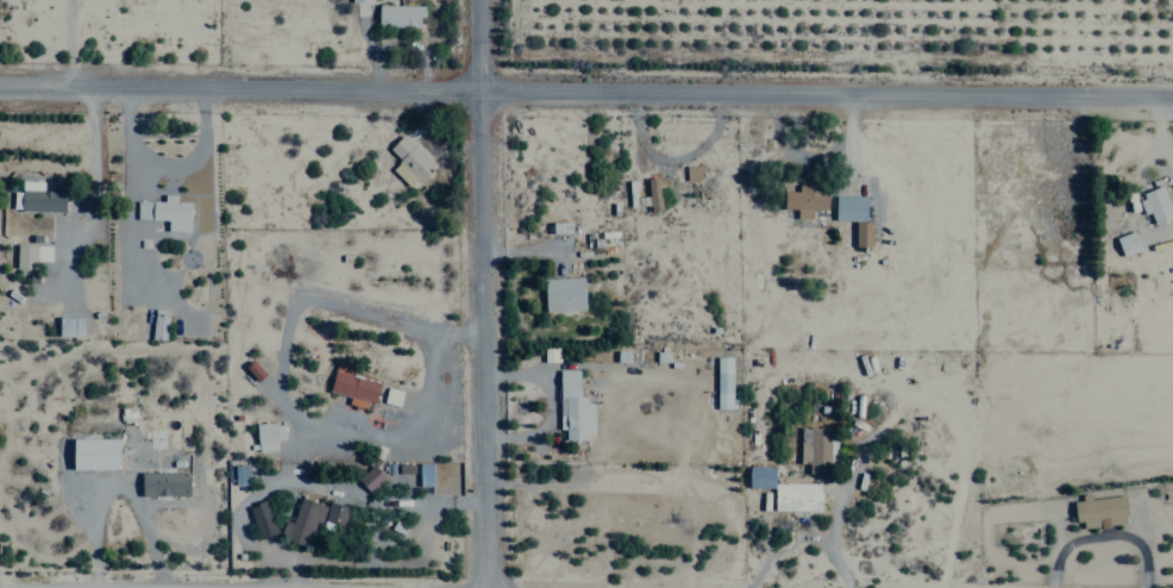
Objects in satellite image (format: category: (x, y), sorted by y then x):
building: (359, 0)
building: (399, 14)
road: (586, 87)
building: (409, 161)
building: (691, 173)
building: (653, 193)
building: (37, 198)
building: (805, 199)
building: (1155, 205)
building: (849, 207)
building: (164, 212)
building: (862, 233)
building: (1128, 243)
building: (42, 252)
building: (24, 256)
road: (488, 293)
building: (563, 293)
building: (158, 324)
building: (548, 354)
building: (661, 356)
building: (252, 369)
building: (722, 382)
building: (352, 387)
building: (391, 396)
building: (573, 407)
building: (268, 436)
building: (814, 449)
building: (94, 453)
building: (239, 474)
building: (424, 474)
building: (369, 477)
building: (163, 483)
building: (785, 490)
building: (1100, 512)
building: (334, 513)
building: (261, 518)
building: (302, 521)
road: (82, 584)

